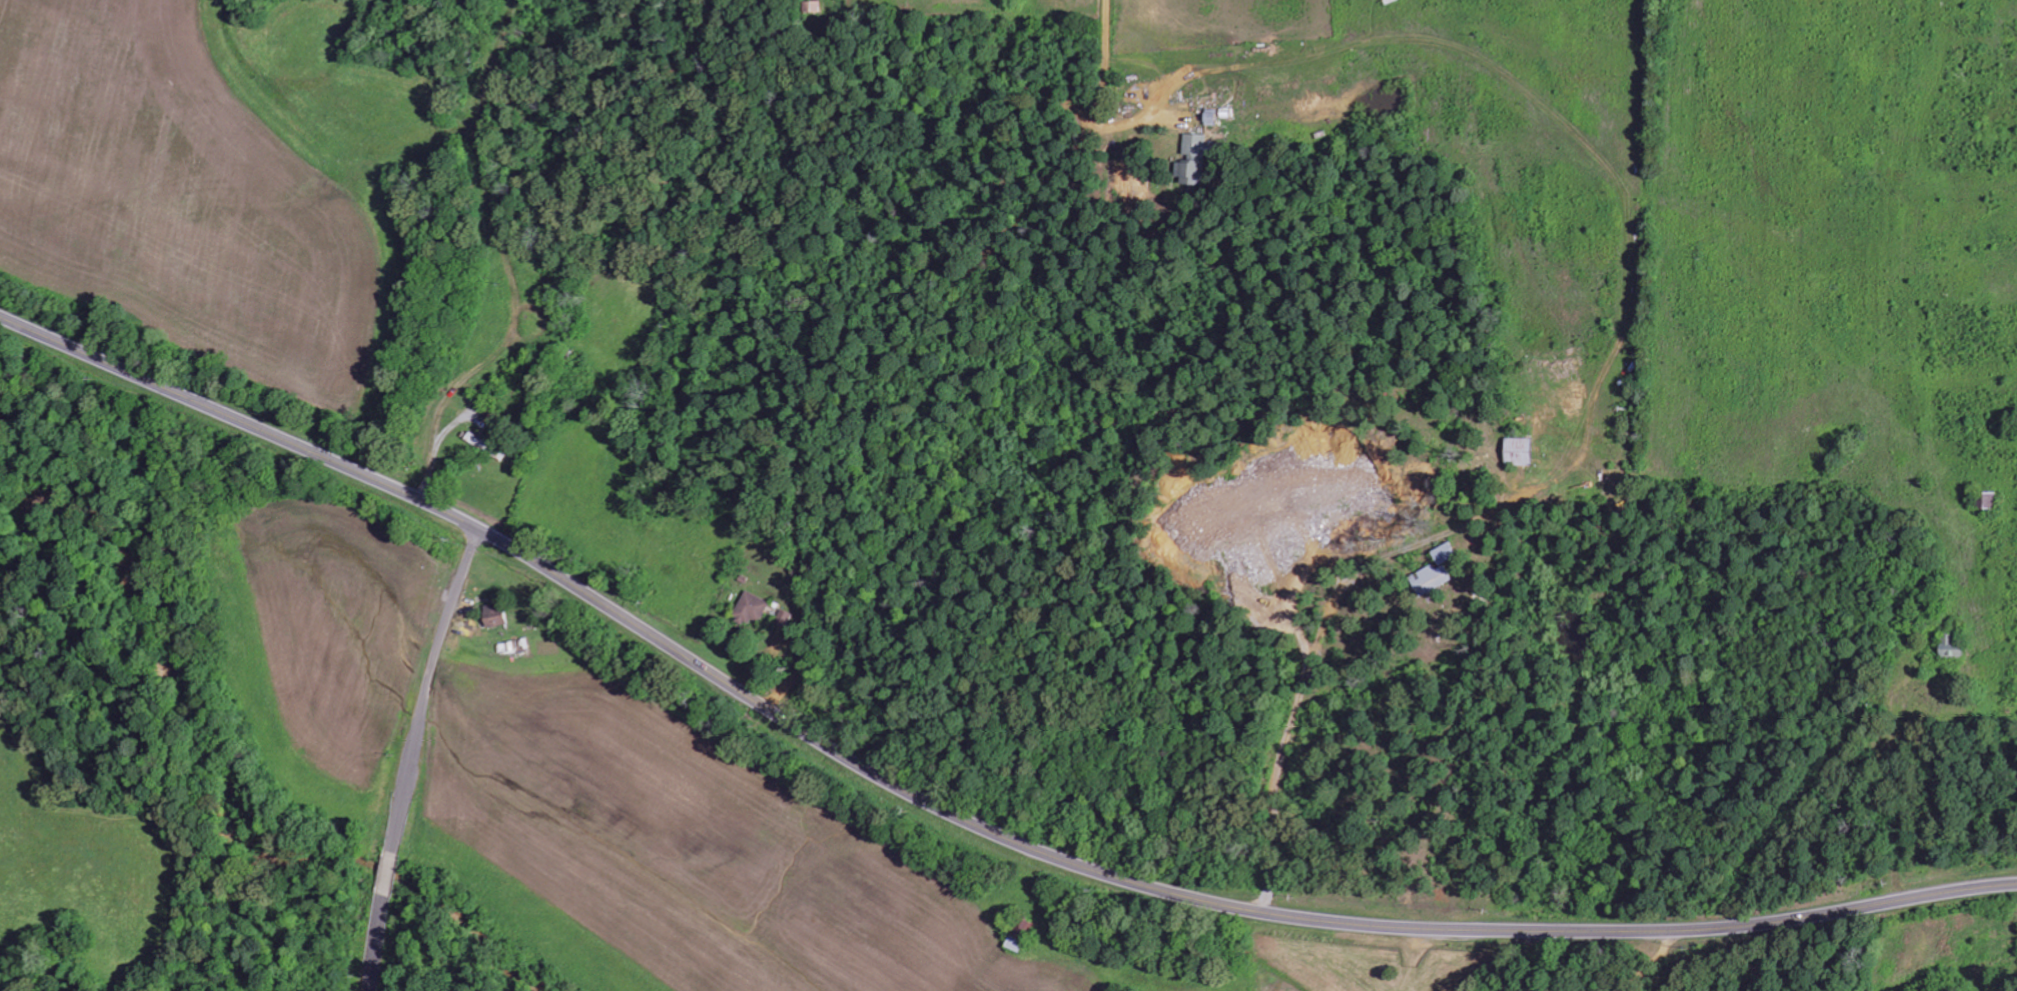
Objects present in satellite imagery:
building: (1192, 160)
road: (850, 312)
building: (1516, 450)
building: (1433, 571)
road: (1580, 604)
building: (750, 607)
building: (492, 614)
road: (1917, 754)
road: (415, 759)
road: (956, 815)
building: (1020, 935)
road: (1648, 961)

